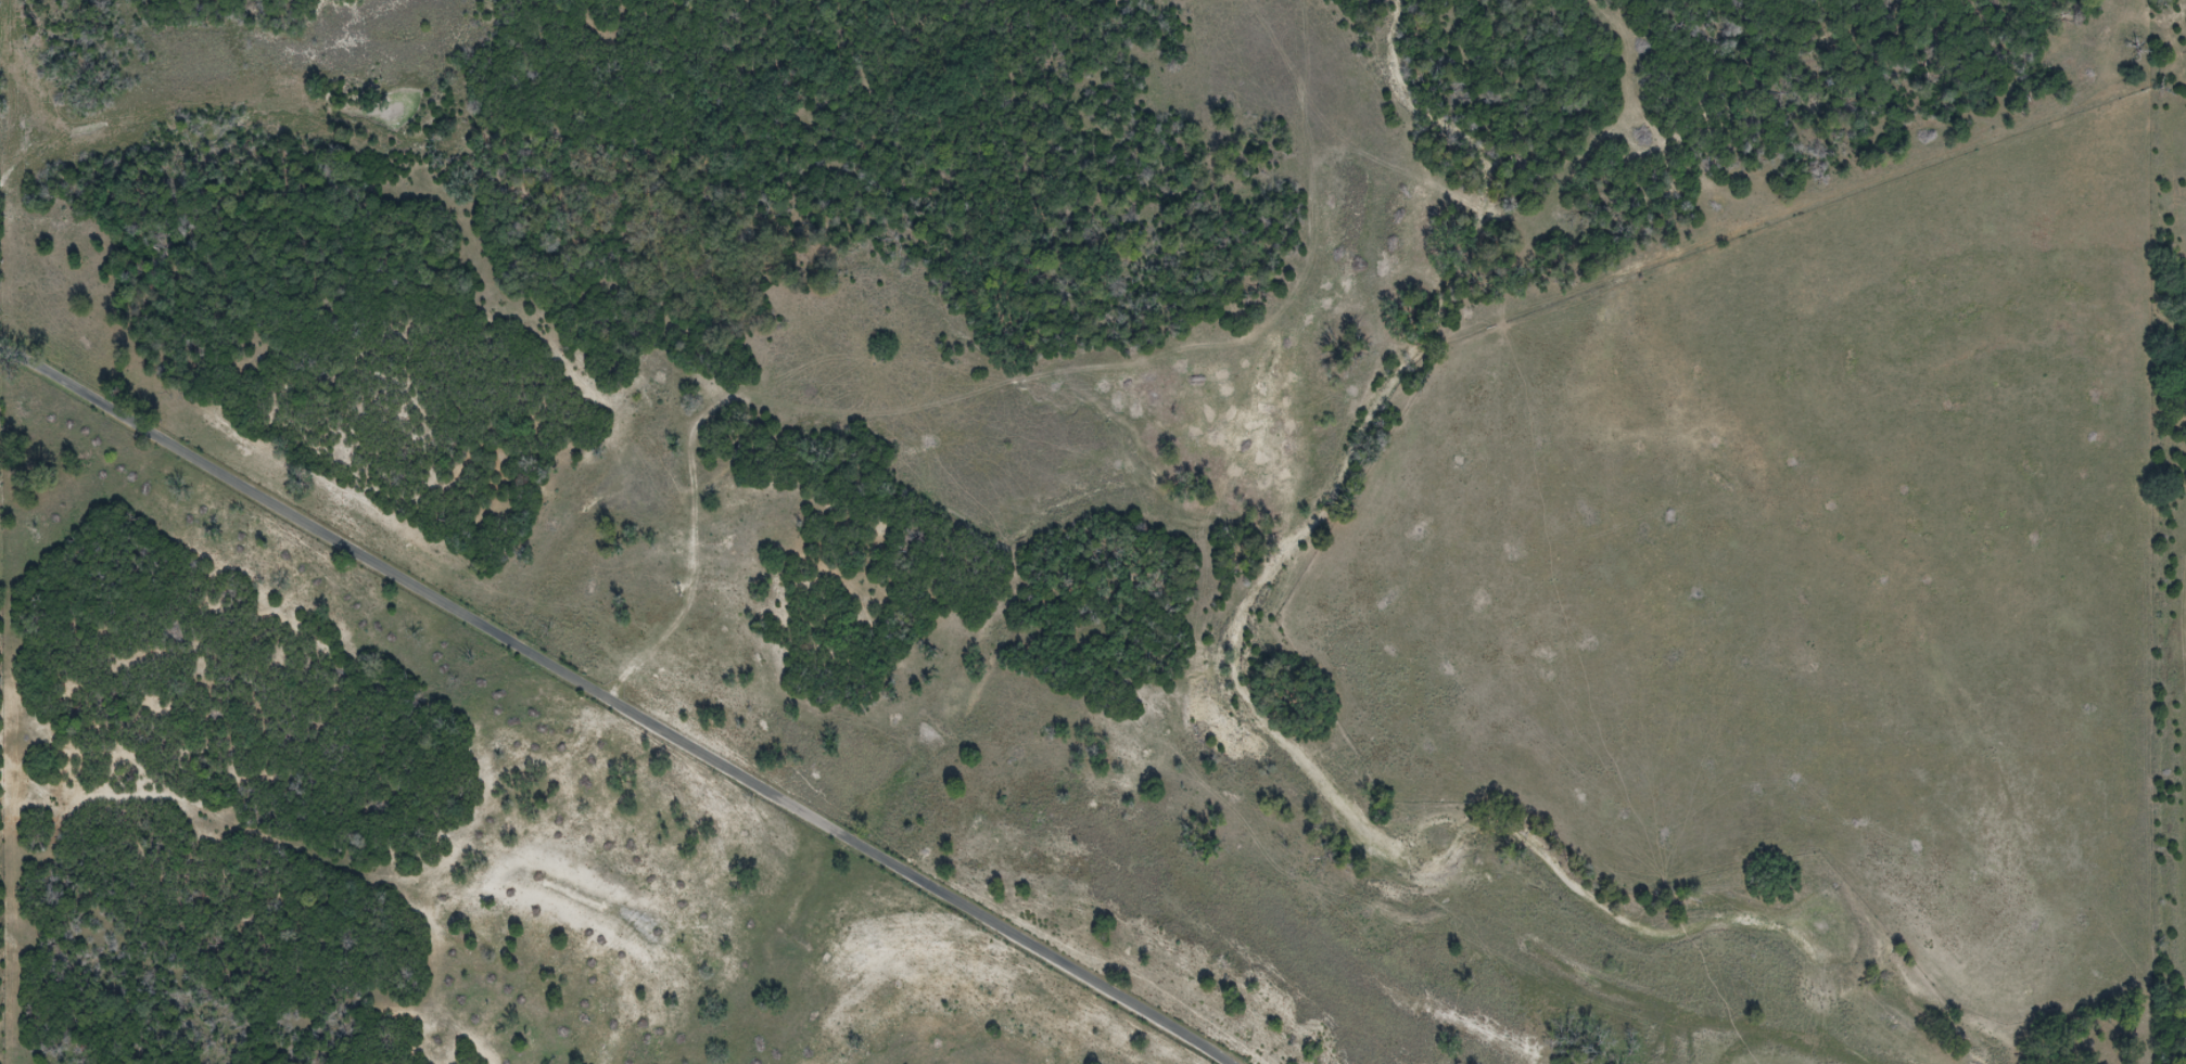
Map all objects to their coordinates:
road: (618, 703)

